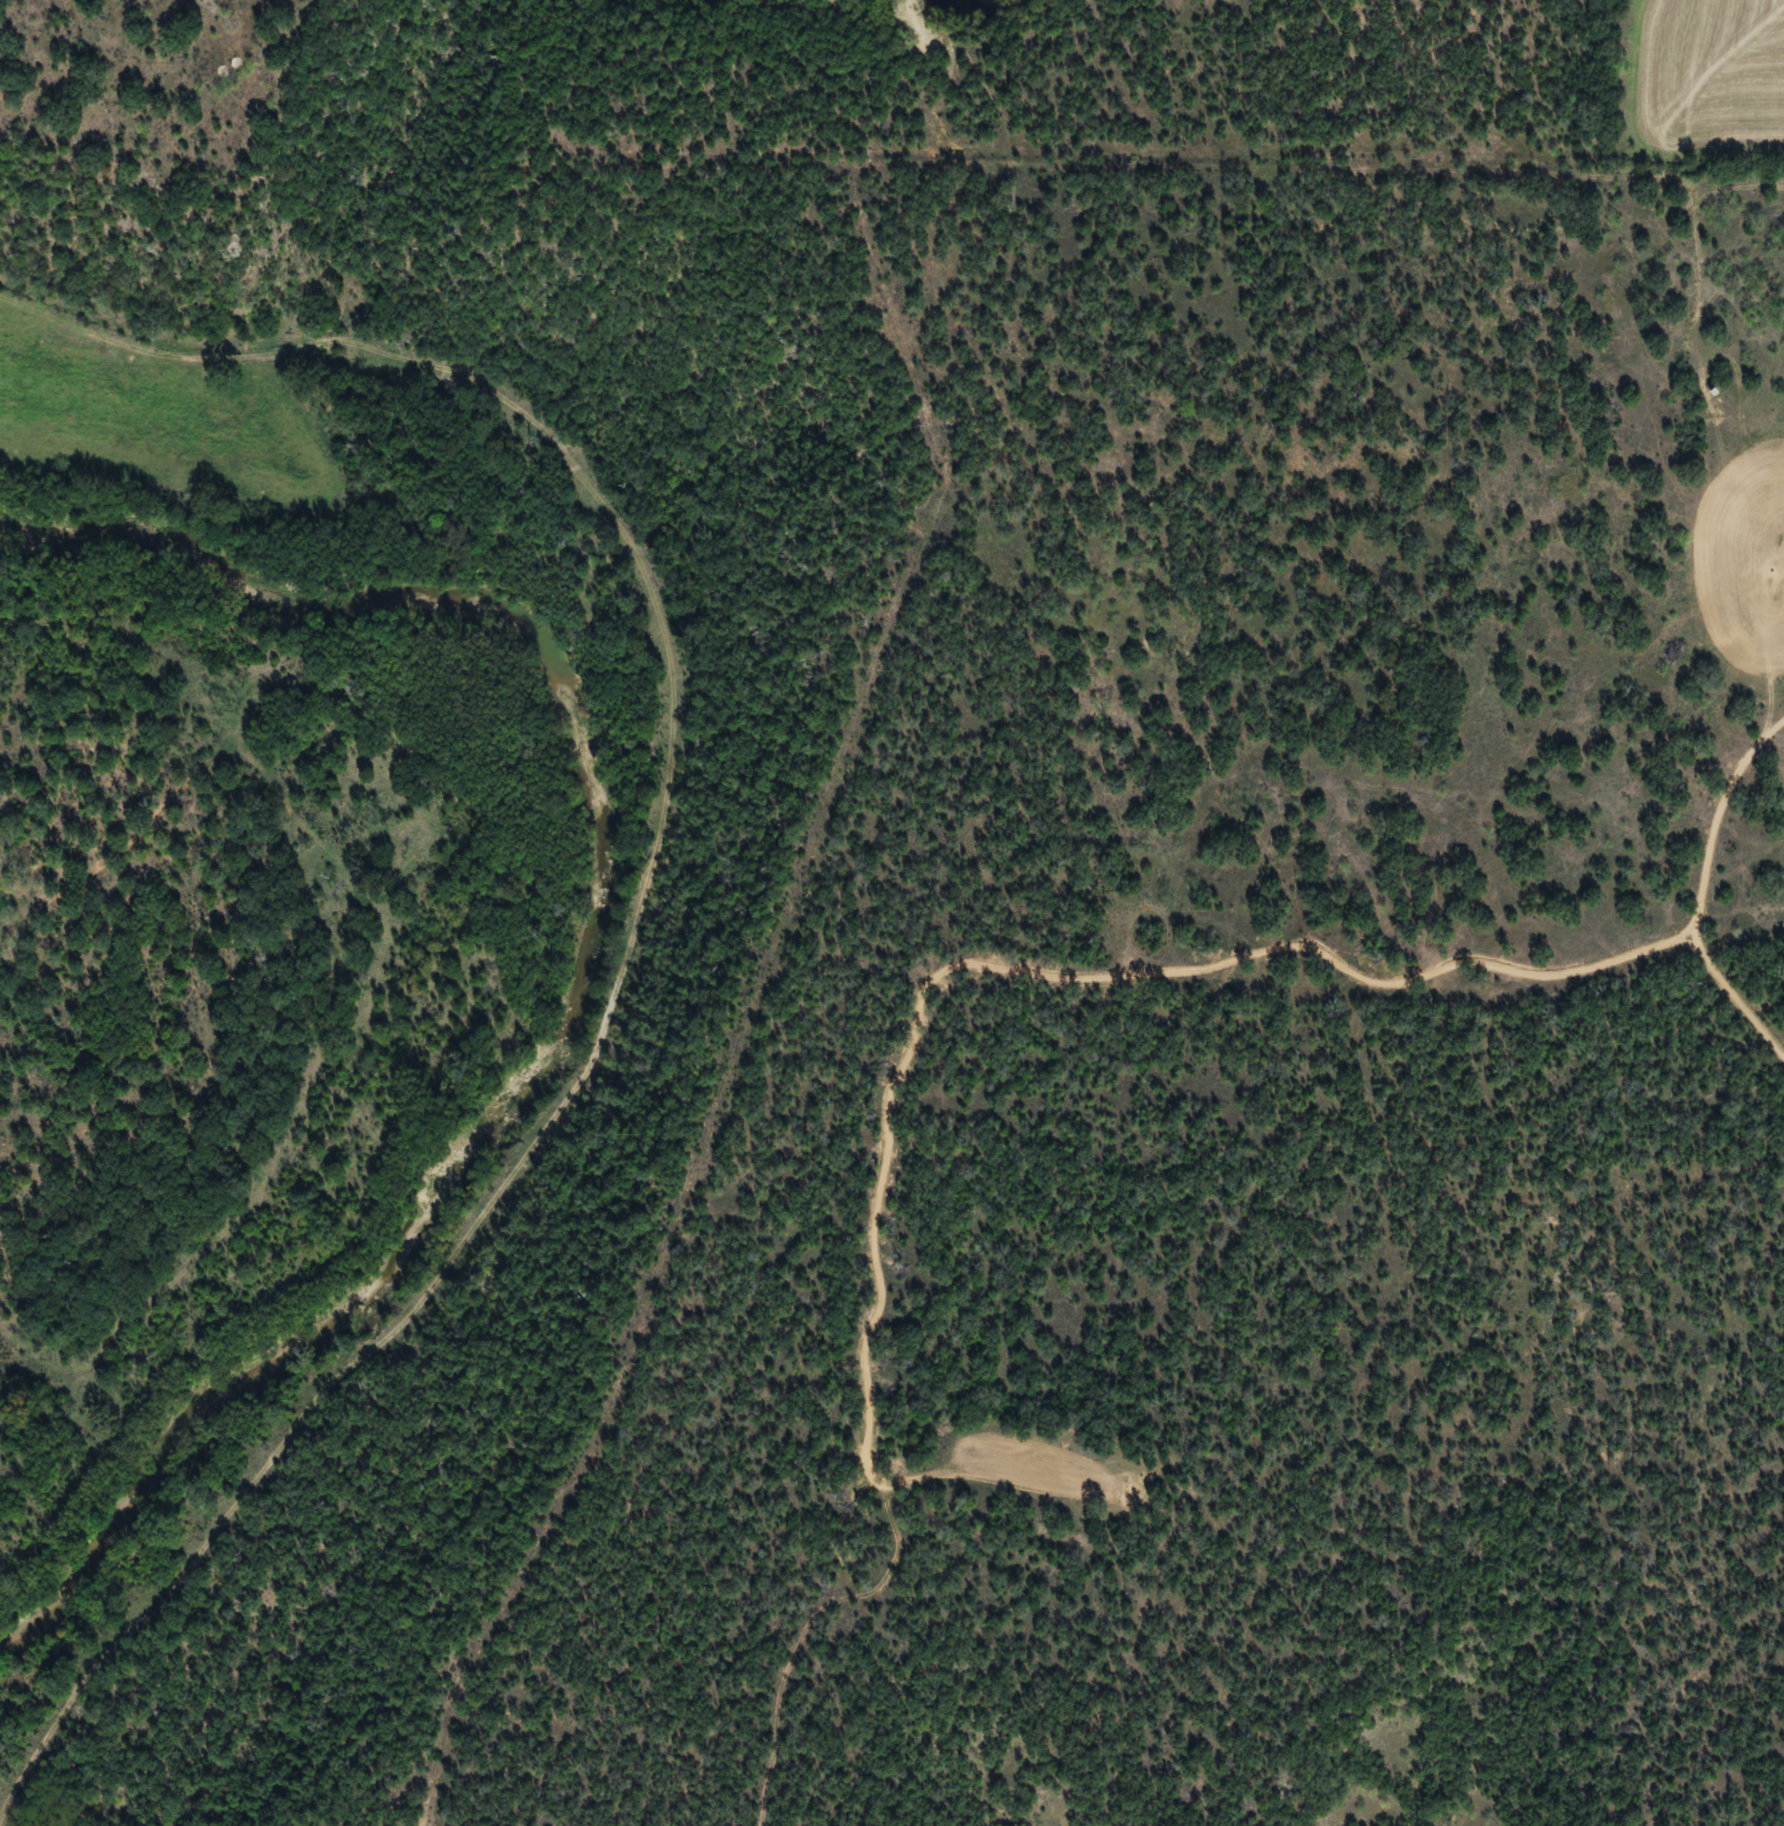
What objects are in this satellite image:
road: (1743, 842)

